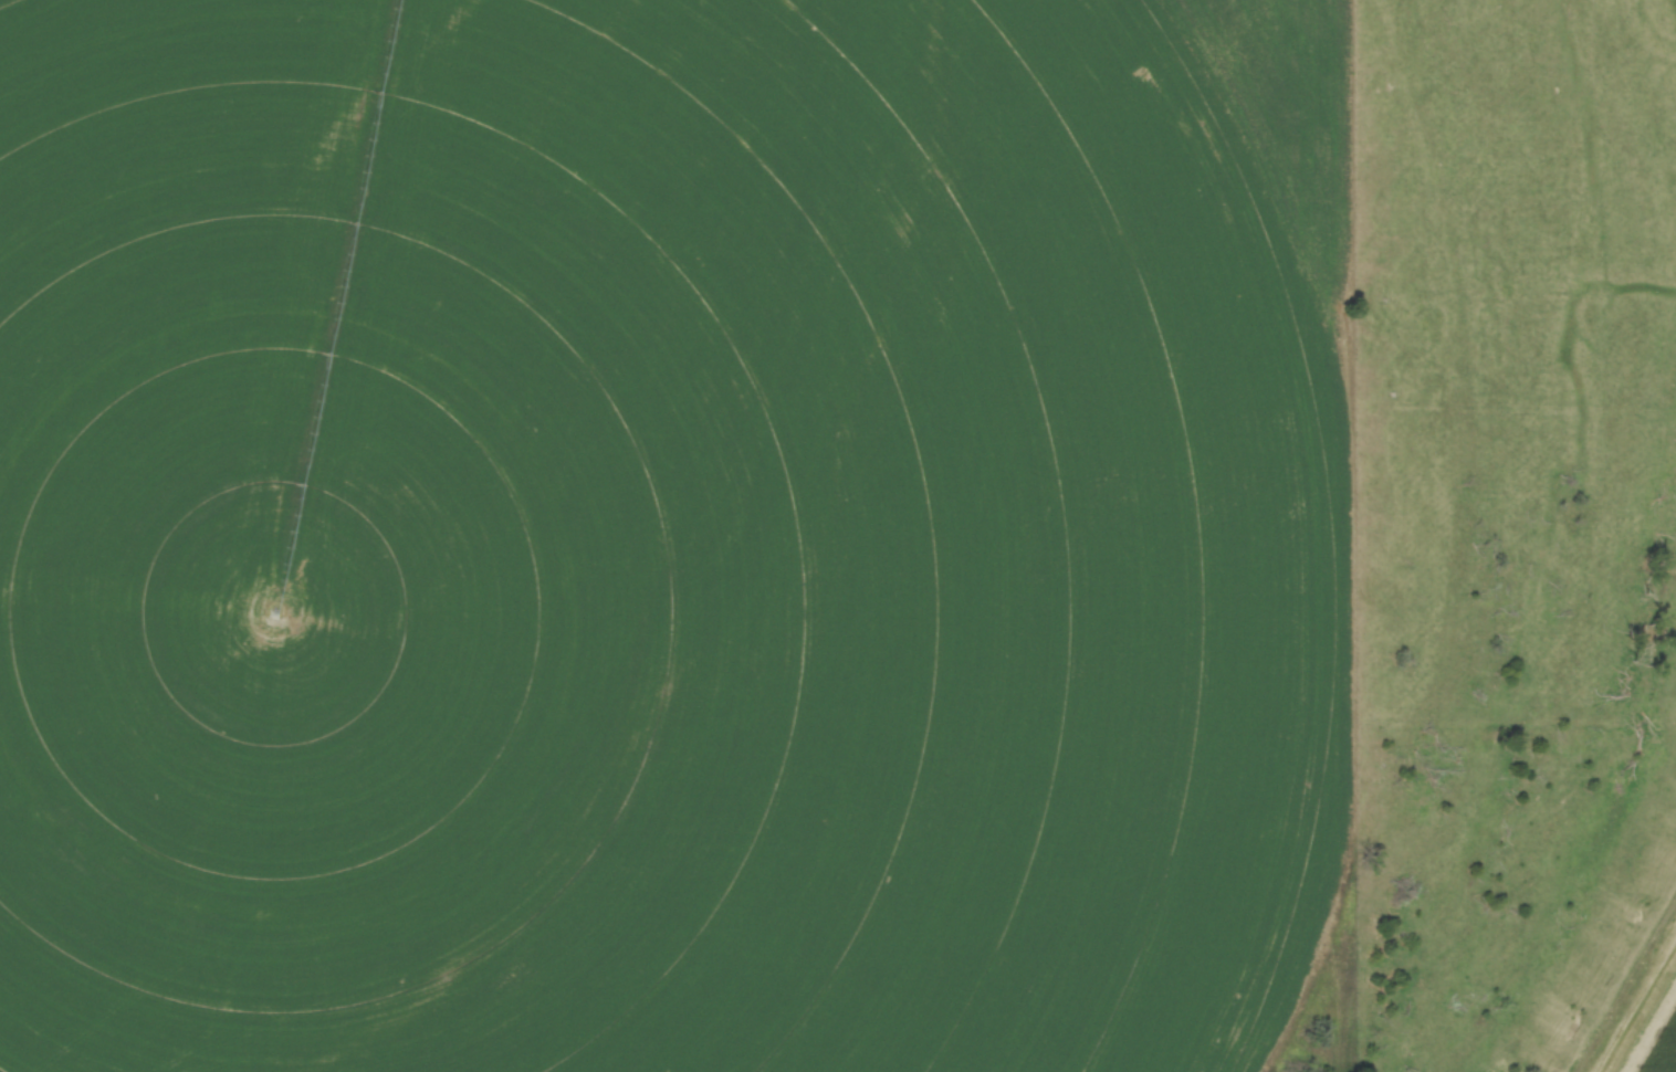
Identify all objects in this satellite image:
road: (1635, 1001)

